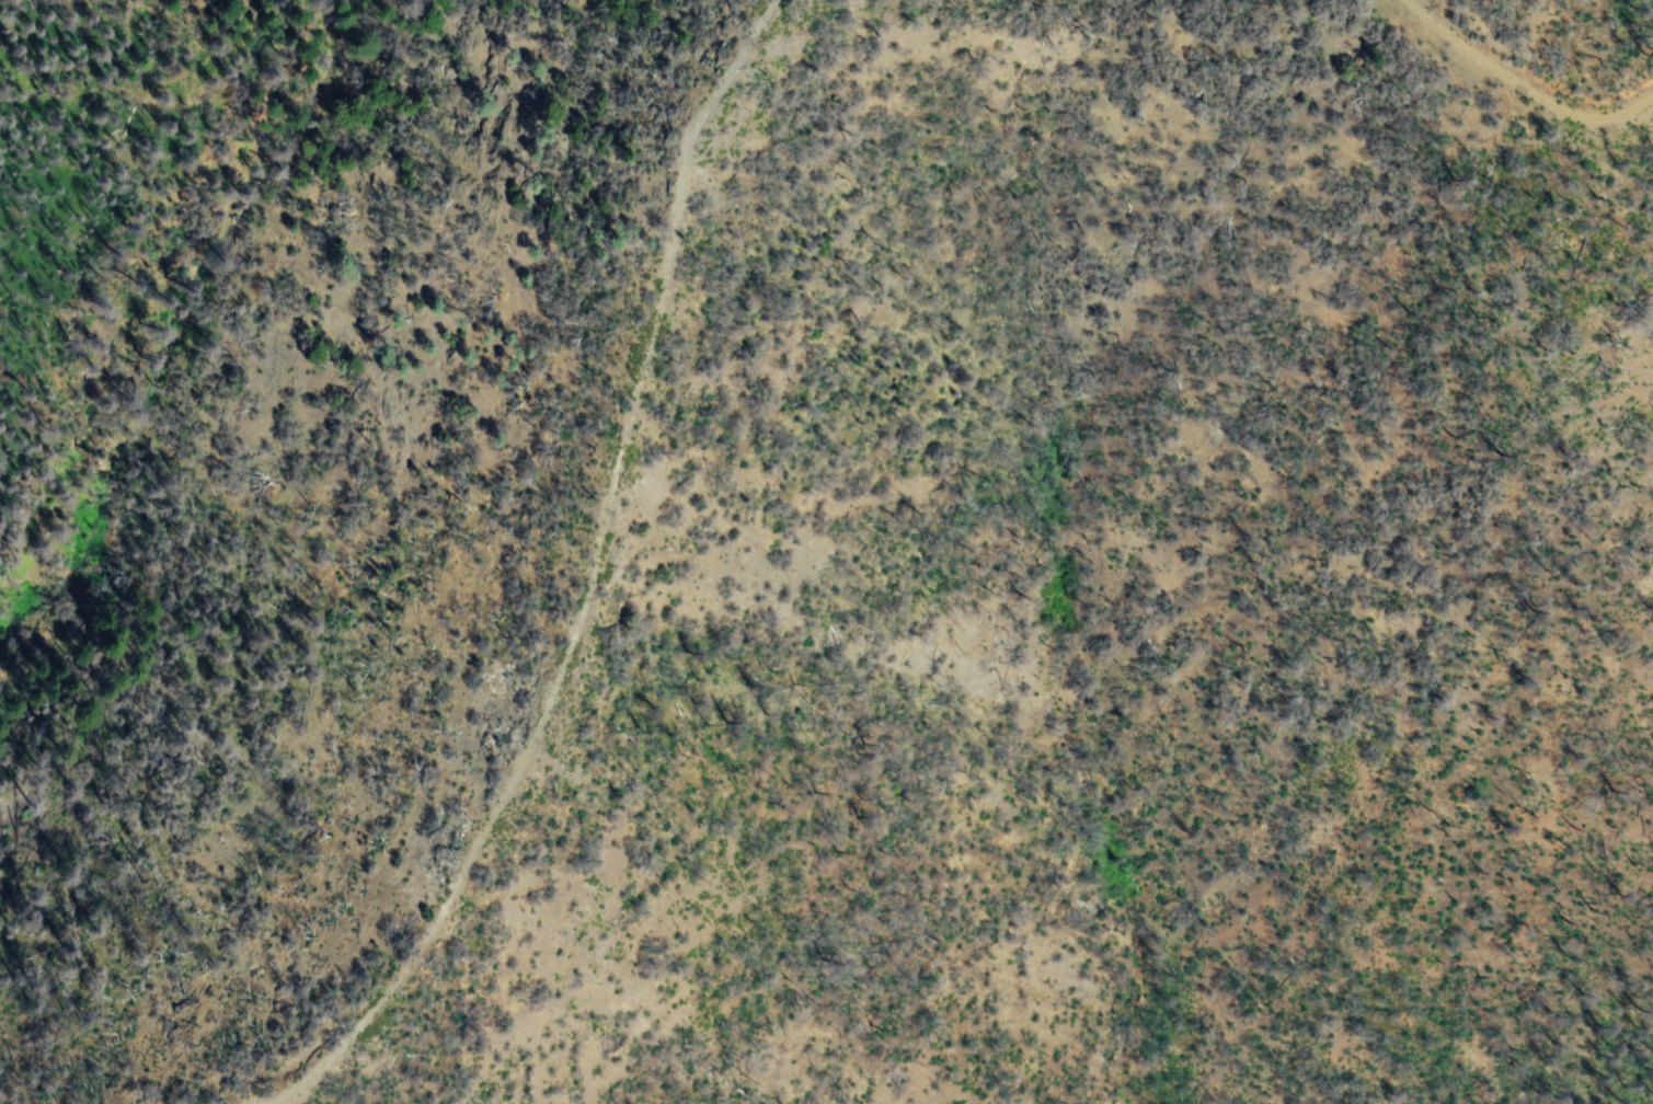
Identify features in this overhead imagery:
road: (1491, 80)

